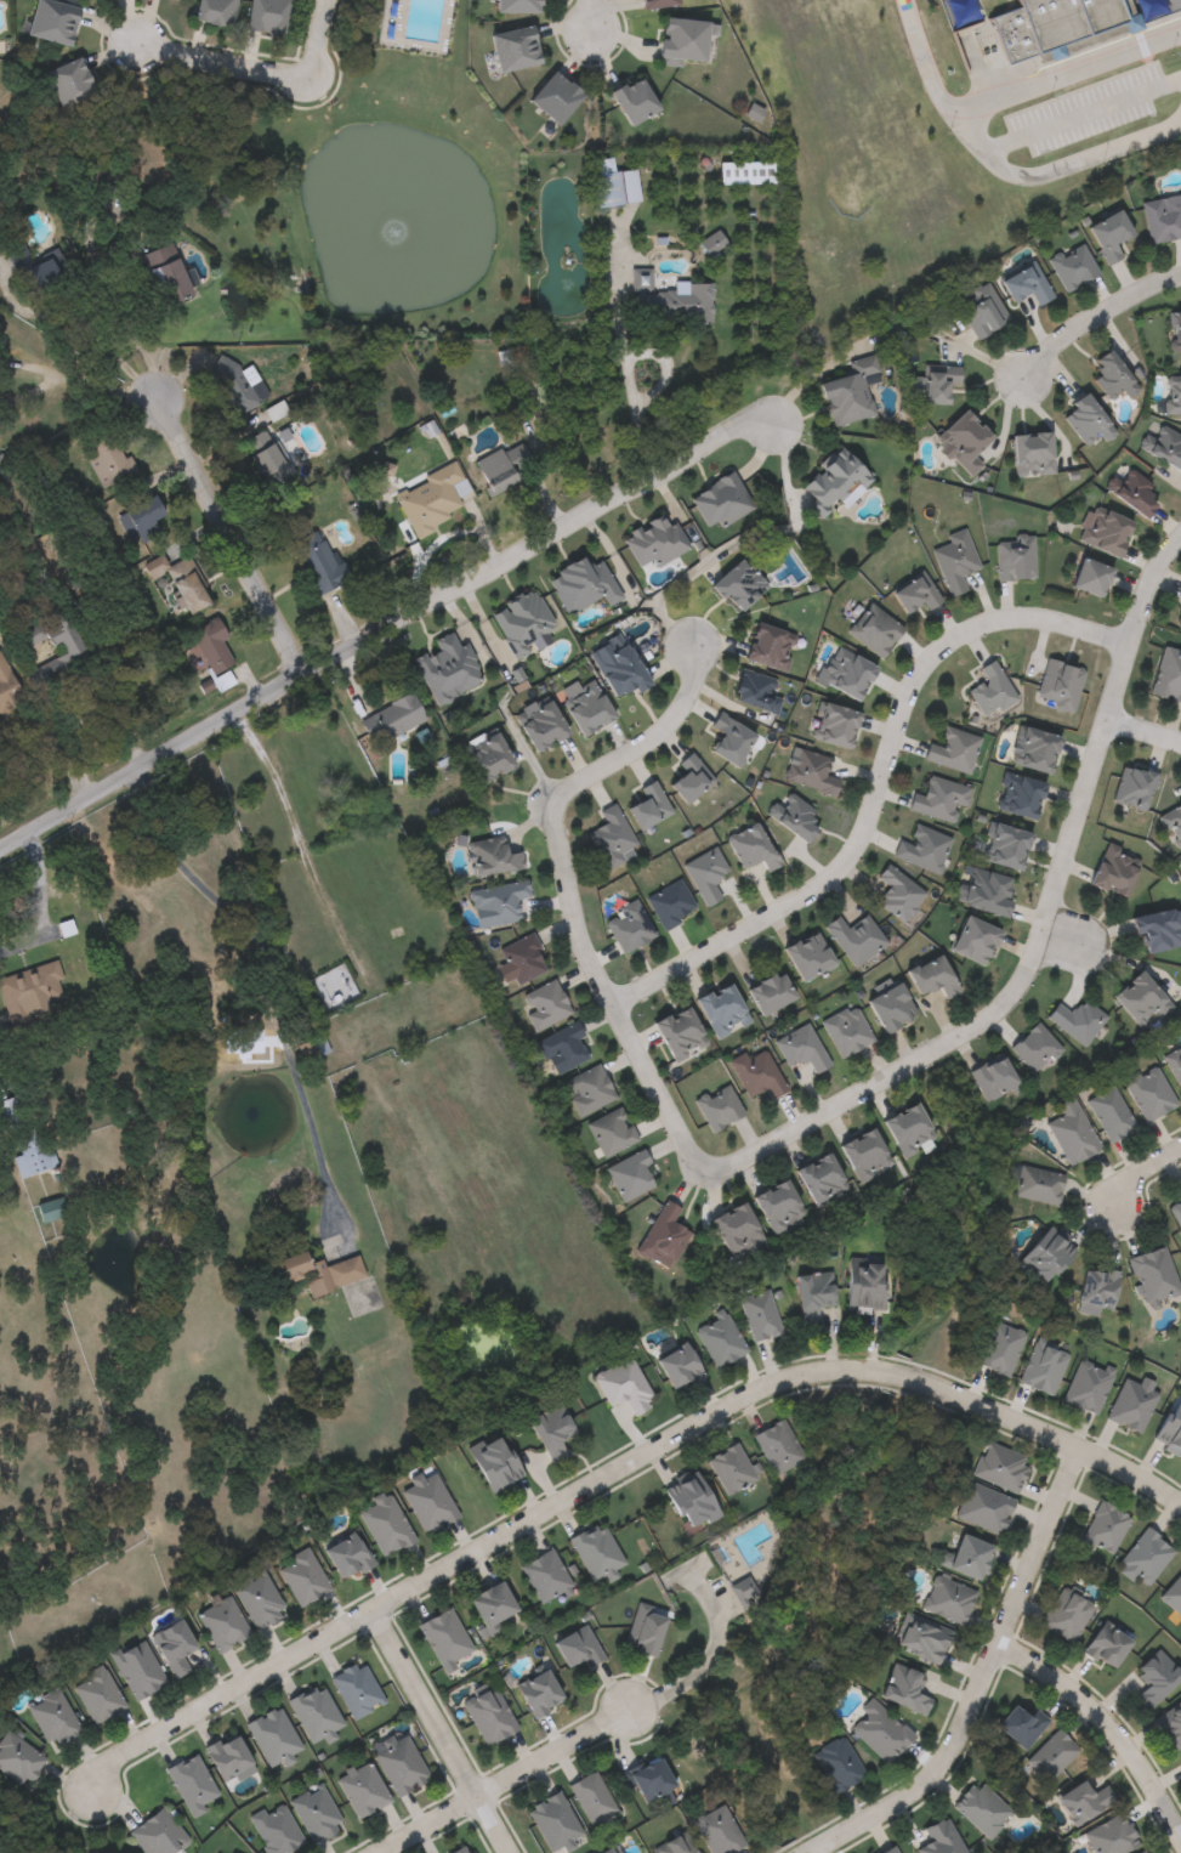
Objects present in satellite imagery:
building: (654, 2)
building: (515, 6)
building: (216, 11)
building: (268, 15)
road: (587, 17)
building: (55, 19)
building: (1055, 23)
road: (313, 39)
building: (681, 40)
building: (513, 47)
road: (919, 57)
road: (221, 63)
road: (1062, 74)
building: (72, 80)
building: (555, 96)
building: (632, 100)
road: (1078, 115)
road: (1055, 175)
building: (614, 183)
building: (1162, 219)
building: (1107, 234)
building: (714, 243)
building: (1073, 266)
building: (35, 268)
building: (171, 282)
building: (1024, 283)
building: (669, 300)
building: (981, 310)
road: (1092, 317)
road: (119, 318)
building: (1175, 330)
road: (93, 348)
road: (626, 369)
building: (1109, 375)
building: (937, 381)
building: (235, 385)
building: (847, 392)
building: (1173, 393)
building: (1085, 419)
building: (961, 441)
building: (1164, 447)
building: (1029, 453)
building: (108, 458)
building: (267, 458)
building: (503, 466)
building: (830, 478)
building: (1135, 493)
building: (427, 499)
building: (140, 518)
building: (1102, 531)
road: (227, 538)
building: (1015, 557)
building: (318, 561)
building: (955, 561)
building: (1088, 577)
building: (583, 584)
building: (738, 584)
road: (453, 589)
building: (191, 591)
building: (914, 593)
building: (1179, 616)
building: (522, 620)
building: (874, 630)
building: (211, 645)
building: (767, 647)
building: (75, 652)
building: (618, 665)
building: (448, 667)
building: (848, 675)
building: (1168, 675)
building: (1058, 685)
building: (989, 690)
building: (755, 691)
road: (84, 703)
building: (587, 707)
building: (392, 718)
building: (540, 722)
building: (833, 725)
road: (1143, 732)
building: (728, 737)
building: (952, 749)
building: (1034, 749)
building: (488, 756)
building: (812, 771)
building: (689, 778)
building: (1132, 787)
road: (878, 789)
building: (1017, 795)
building: (937, 799)
building: (647, 805)
building: (793, 816)
road: (289, 817)
building: (1173, 822)
building: (613, 838)
building: (1005, 846)
building: (751, 848)
building: (921, 848)
building: (494, 855)
building: (1113, 868)
building: (705, 874)
building: (986, 891)
building: (897, 892)
road: (568, 895)
road: (40, 902)
building: (498, 903)
building: (670, 903)
building: (629, 926)
building: (1157, 929)
road: (1041, 931)
road: (1056, 934)
building: (854, 939)
building: (972, 941)
building: (805, 956)
building: (521, 960)
road: (277, 973)
building: (930, 977)
building: (30, 986)
building: (766, 992)
building: (1139, 1001)
building: (544, 1005)
building: (888, 1008)
building: (719, 1010)
building: (1077, 1020)
building: (846, 1031)
building: (678, 1033)
building: (562, 1048)
building: (801, 1048)
building: (1034, 1048)
building: (1174, 1064)
building: (756, 1073)
building: (992, 1079)
building: (586, 1090)
building: (1147, 1092)
building: (717, 1106)
building: (11, 1112)
building: (1109, 1113)
building: (905, 1129)
building: (611, 1132)
building: (1071, 1135)
building: (32, 1150)
building: (862, 1154)
road: (1142, 1174)
building: (629, 1175)
building: (817, 1177)
building: (1035, 1185)
building: (776, 1207)
building: (52, 1208)
building: (734, 1231)
building: (662, 1235)
building: (1043, 1253)
building: (319, 1270)
building: (1153, 1275)
building: (861, 1286)
building: (1095, 1288)
building: (810, 1294)
building: (757, 1314)
building: (720, 1338)
building: (998, 1349)
building: (680, 1365)
building: (1040, 1368)
building: (623, 1384)
building: (1086, 1385)
building: (1130, 1406)
building: (1170, 1428)
building: (551, 1429)
building: (778, 1445)
building: (495, 1462)
building: (1000, 1467)
building: (731, 1468)
road: (613, 1473)
building: (428, 1500)
building: (692, 1503)
building: (983, 1507)
building: (386, 1524)
building: (1102, 1528)
building: (596, 1551)
building: (348, 1554)
building: (967, 1555)
building: (1143, 1557)
building: (302, 1576)
building: (545, 1576)
building: (1173, 1594)
building: (948, 1598)
building: (257, 1600)
building: (493, 1603)
building: (1064, 1614)
building: (222, 1623)
building: (646, 1630)
building: (444, 1637)
building: (924, 1638)
building: (1106, 1644)
building: (174, 1645)
building: (579, 1647)
building: (137, 1668)
road: (689, 1672)
building: (1154, 1677)
road: (980, 1679)
building: (905, 1688)
building: (356, 1689)
building: (540, 1693)
building: (96, 1695)
building: (314, 1712)
building: (489, 1716)
building: (52, 1718)
building: (1170, 1723)
building: (1021, 1725)
road: (1105, 1730)
building: (880, 1732)
road: (436, 1733)
building: (272, 1735)
road: (550, 1753)
building: (228, 1755)
building: (1051, 1755)
building: (18, 1758)
building: (1180, 1759)
building: (399, 1763)
building: (838, 1764)
building: (649, 1778)
building: (192, 1784)
building: (362, 1789)
building: (591, 1797)
building: (1083, 1801)
building: (981, 1808)
building: (316, 1812)
building: (553, 1820)
road: (427, 1826)
building: (276, 1829)
building: (719, 1831)
building: (158, 1834)
building: (1109, 1835)
building: (939, 1838)
building: (677, 1844)
building: (460, 1849)
building: (608, 1851)
building: (890, 1851)
building: (1141, 1852)
building: (1146, 1852)

